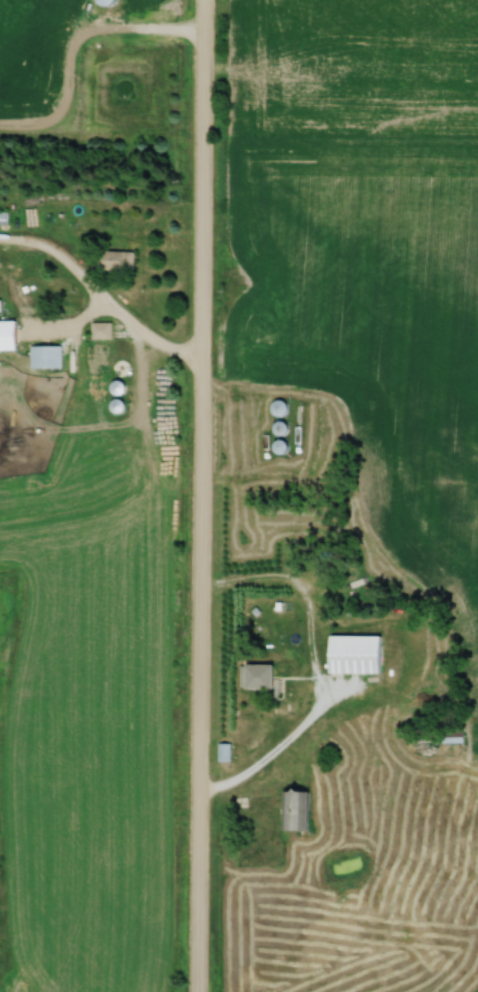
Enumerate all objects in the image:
building: (4, 219)
building: (124, 260)
building: (8, 332)
road: (139, 335)
building: (46, 357)
building: (120, 367)
building: (279, 408)
building: (284, 448)
road: (197, 495)
building: (358, 654)
road: (313, 670)
building: (260, 676)
building: (293, 811)

